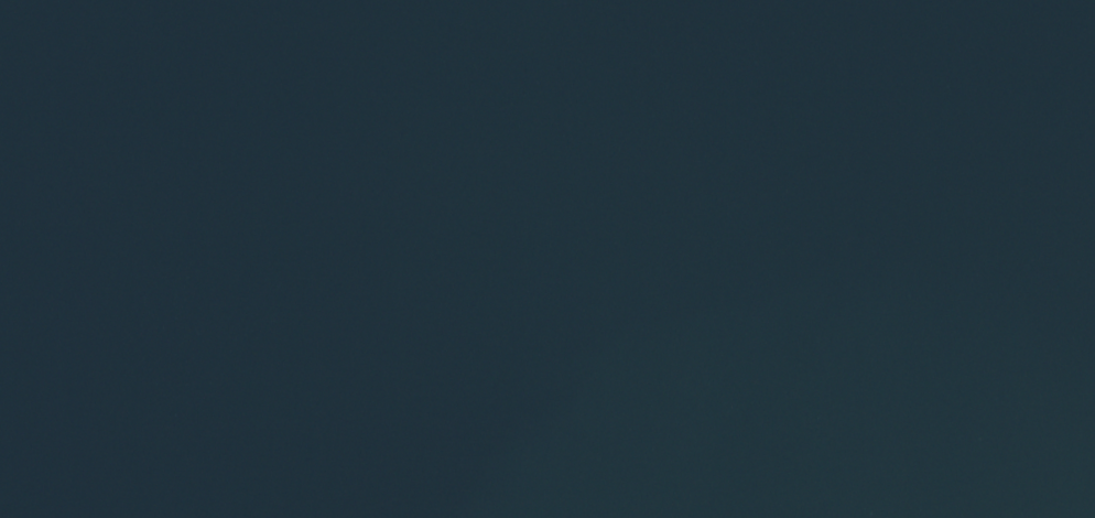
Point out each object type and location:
park: (547, 259)

